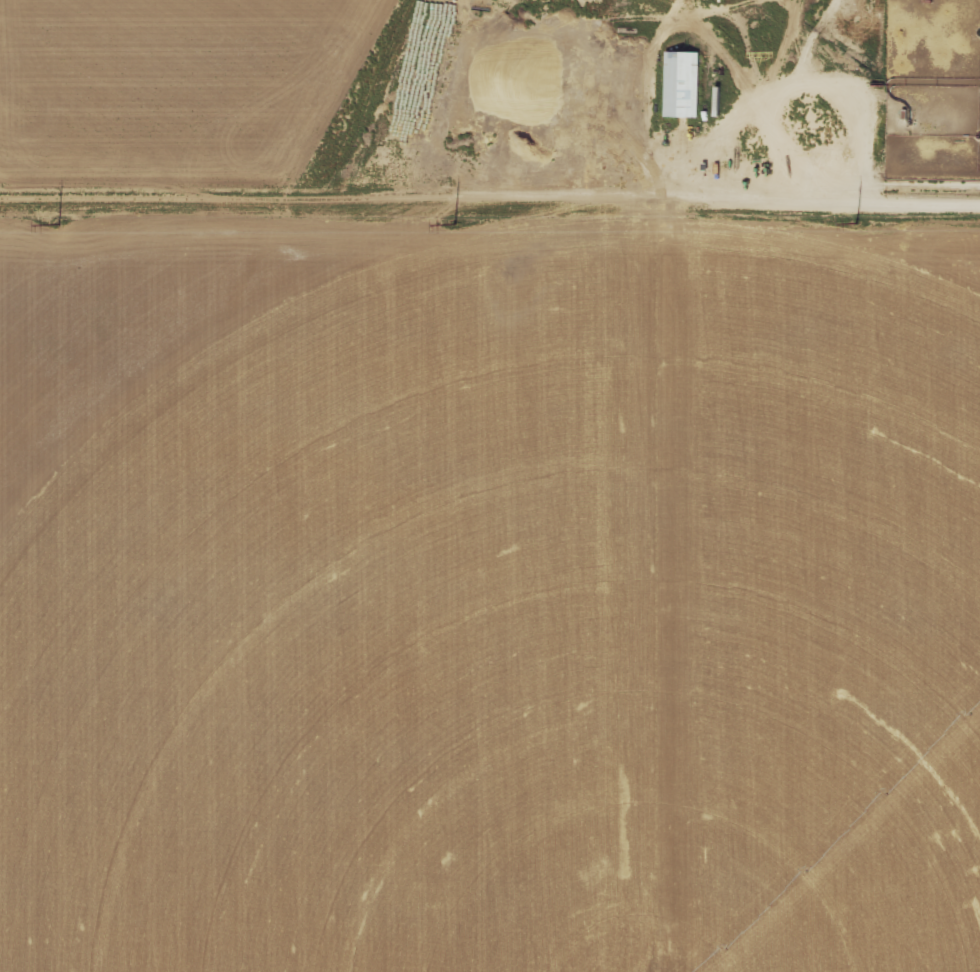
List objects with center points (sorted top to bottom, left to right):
road: (780, 39)
road: (439, 73)
building: (682, 84)
road: (490, 202)

